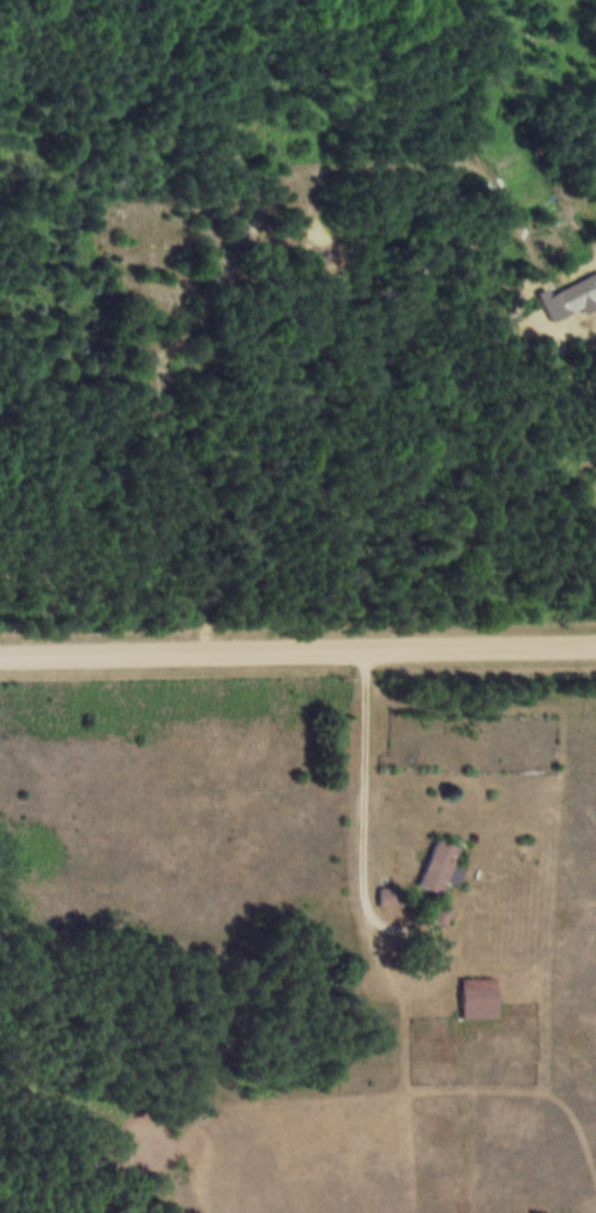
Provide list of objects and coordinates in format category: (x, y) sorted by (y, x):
road: (297, 645)
road: (361, 788)
building: (441, 865)
building: (393, 897)
building: (482, 997)

